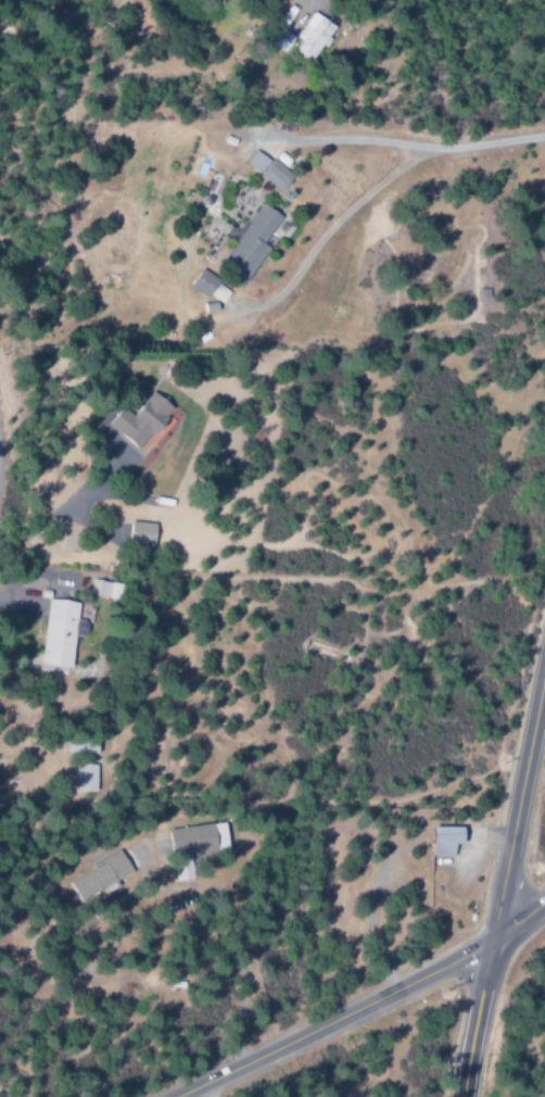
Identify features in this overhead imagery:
building: (315, 37)
road: (398, 144)
building: (268, 171)
building: (251, 242)
building: (203, 283)
building: (134, 419)
building: (136, 532)
building: (55, 632)
building: (84, 746)
building: (439, 841)
building: (191, 842)
building: (97, 875)
road: (502, 877)
road: (364, 1005)

